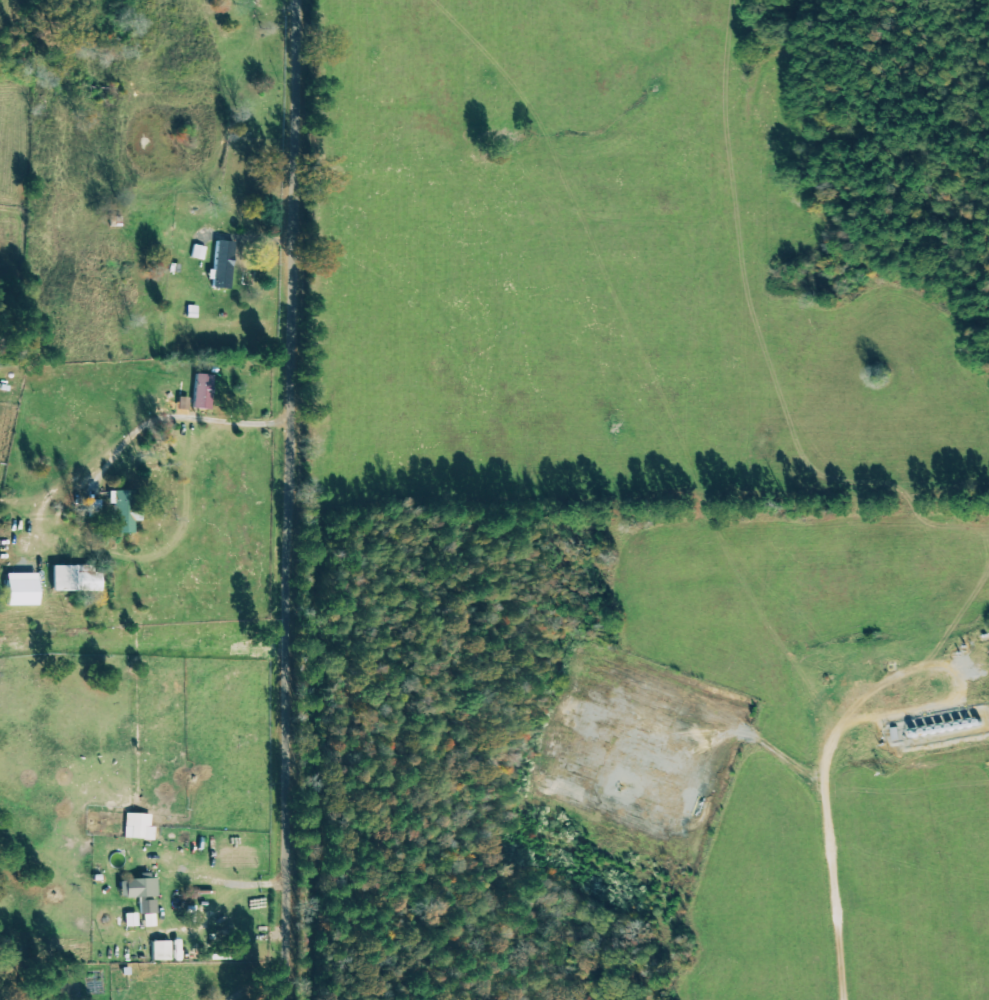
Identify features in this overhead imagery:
building: (224, 265)
building: (206, 393)
road: (191, 418)
road: (285, 500)
building: (126, 513)
building: (78, 579)
building: (24, 590)
building: (140, 827)
building: (145, 896)
building: (163, 951)

